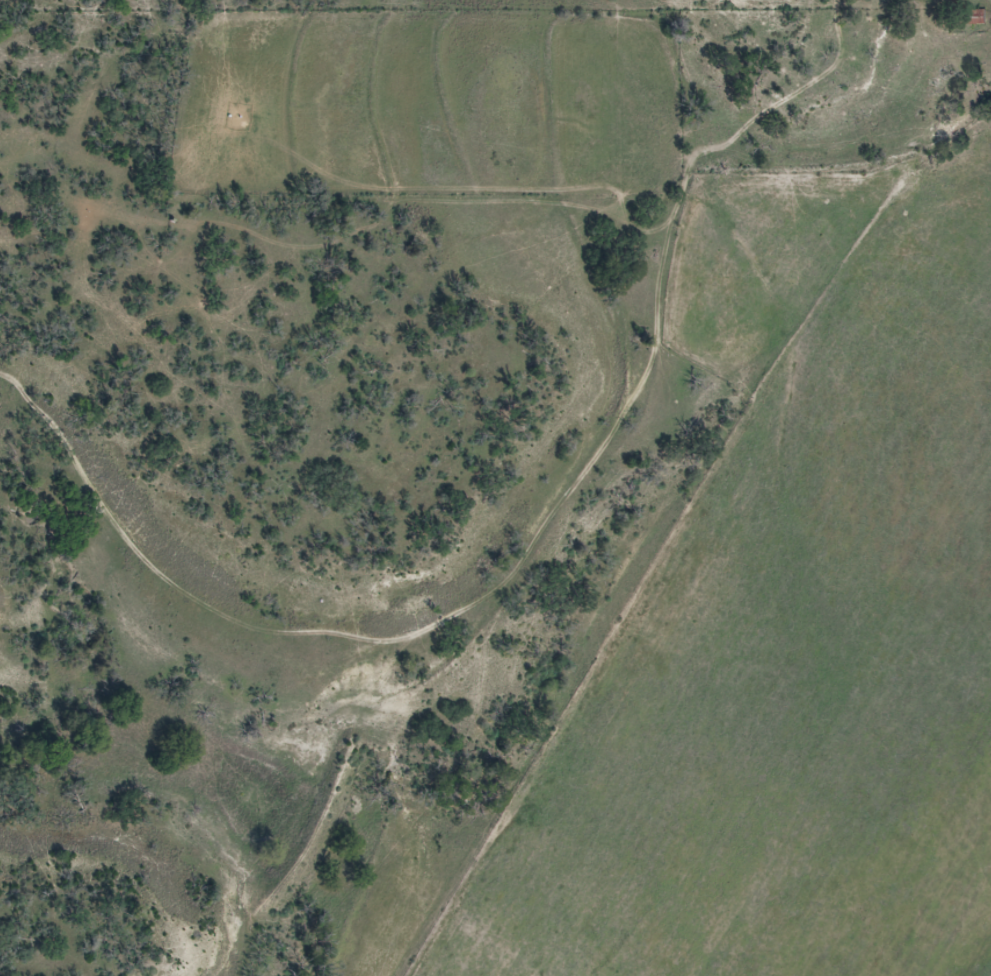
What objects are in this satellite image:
building: (977, 16)

